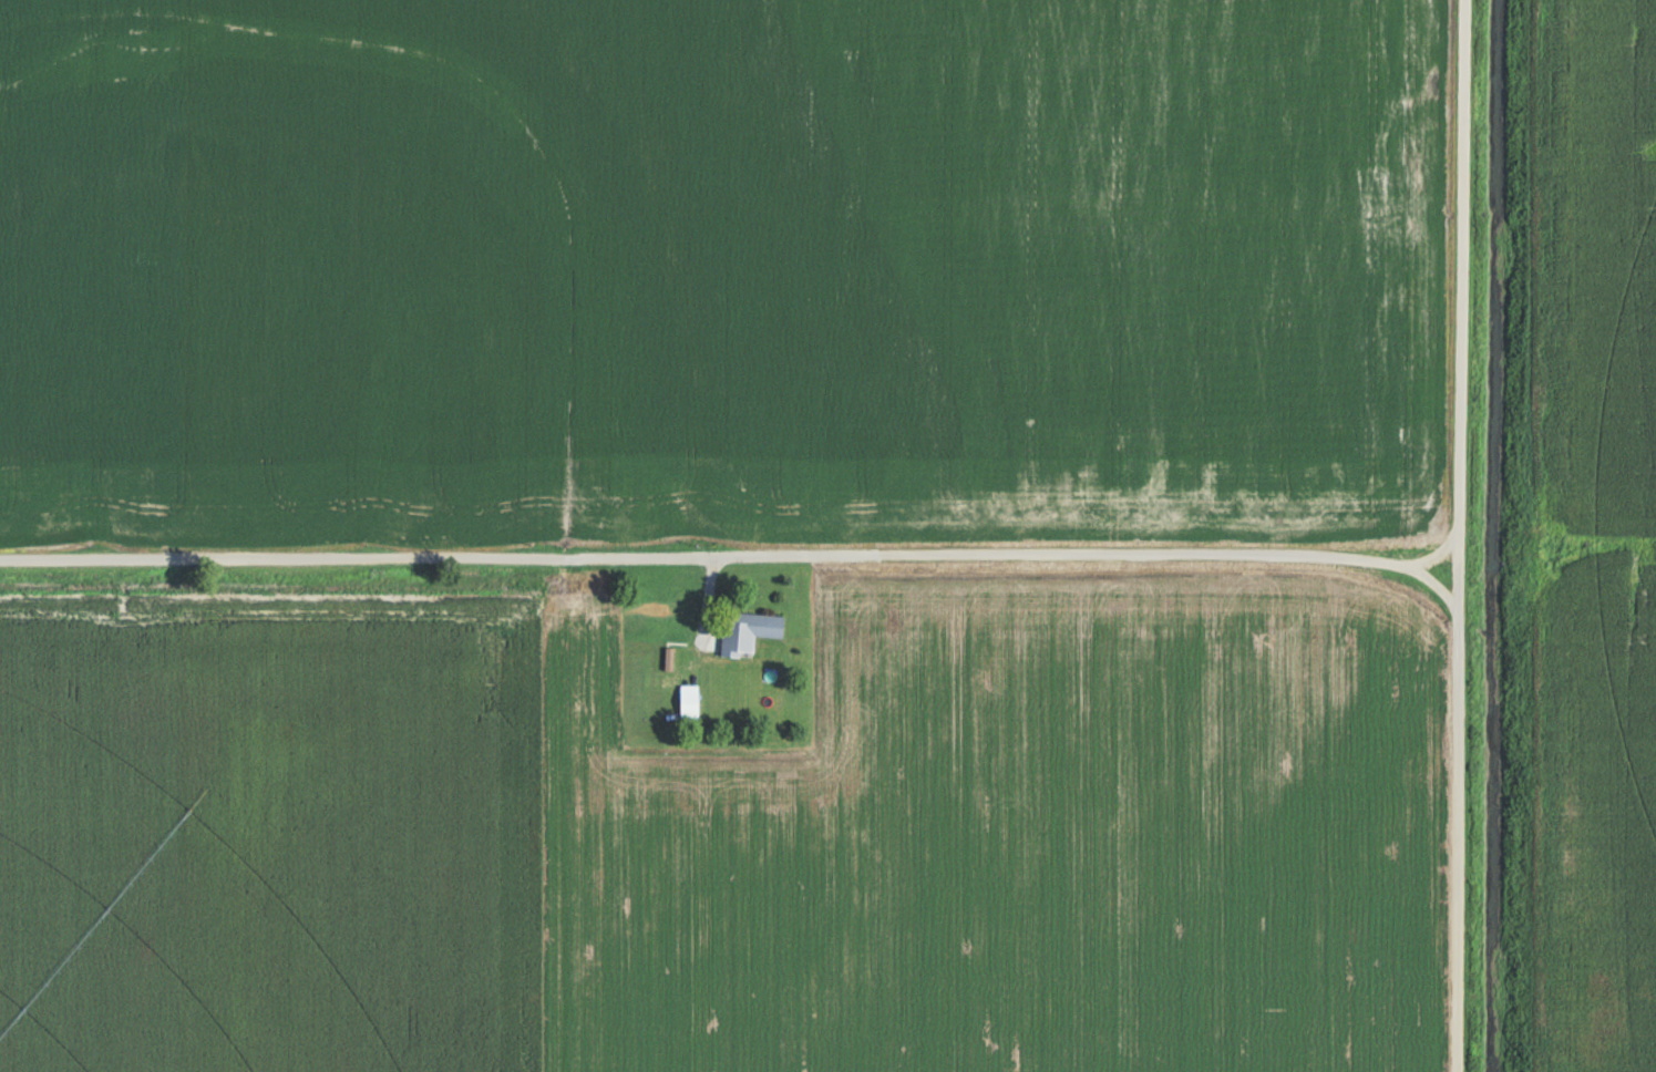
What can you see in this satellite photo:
road: (1456, 535)
road: (728, 554)
road: (707, 591)
building: (749, 629)
building: (690, 699)

